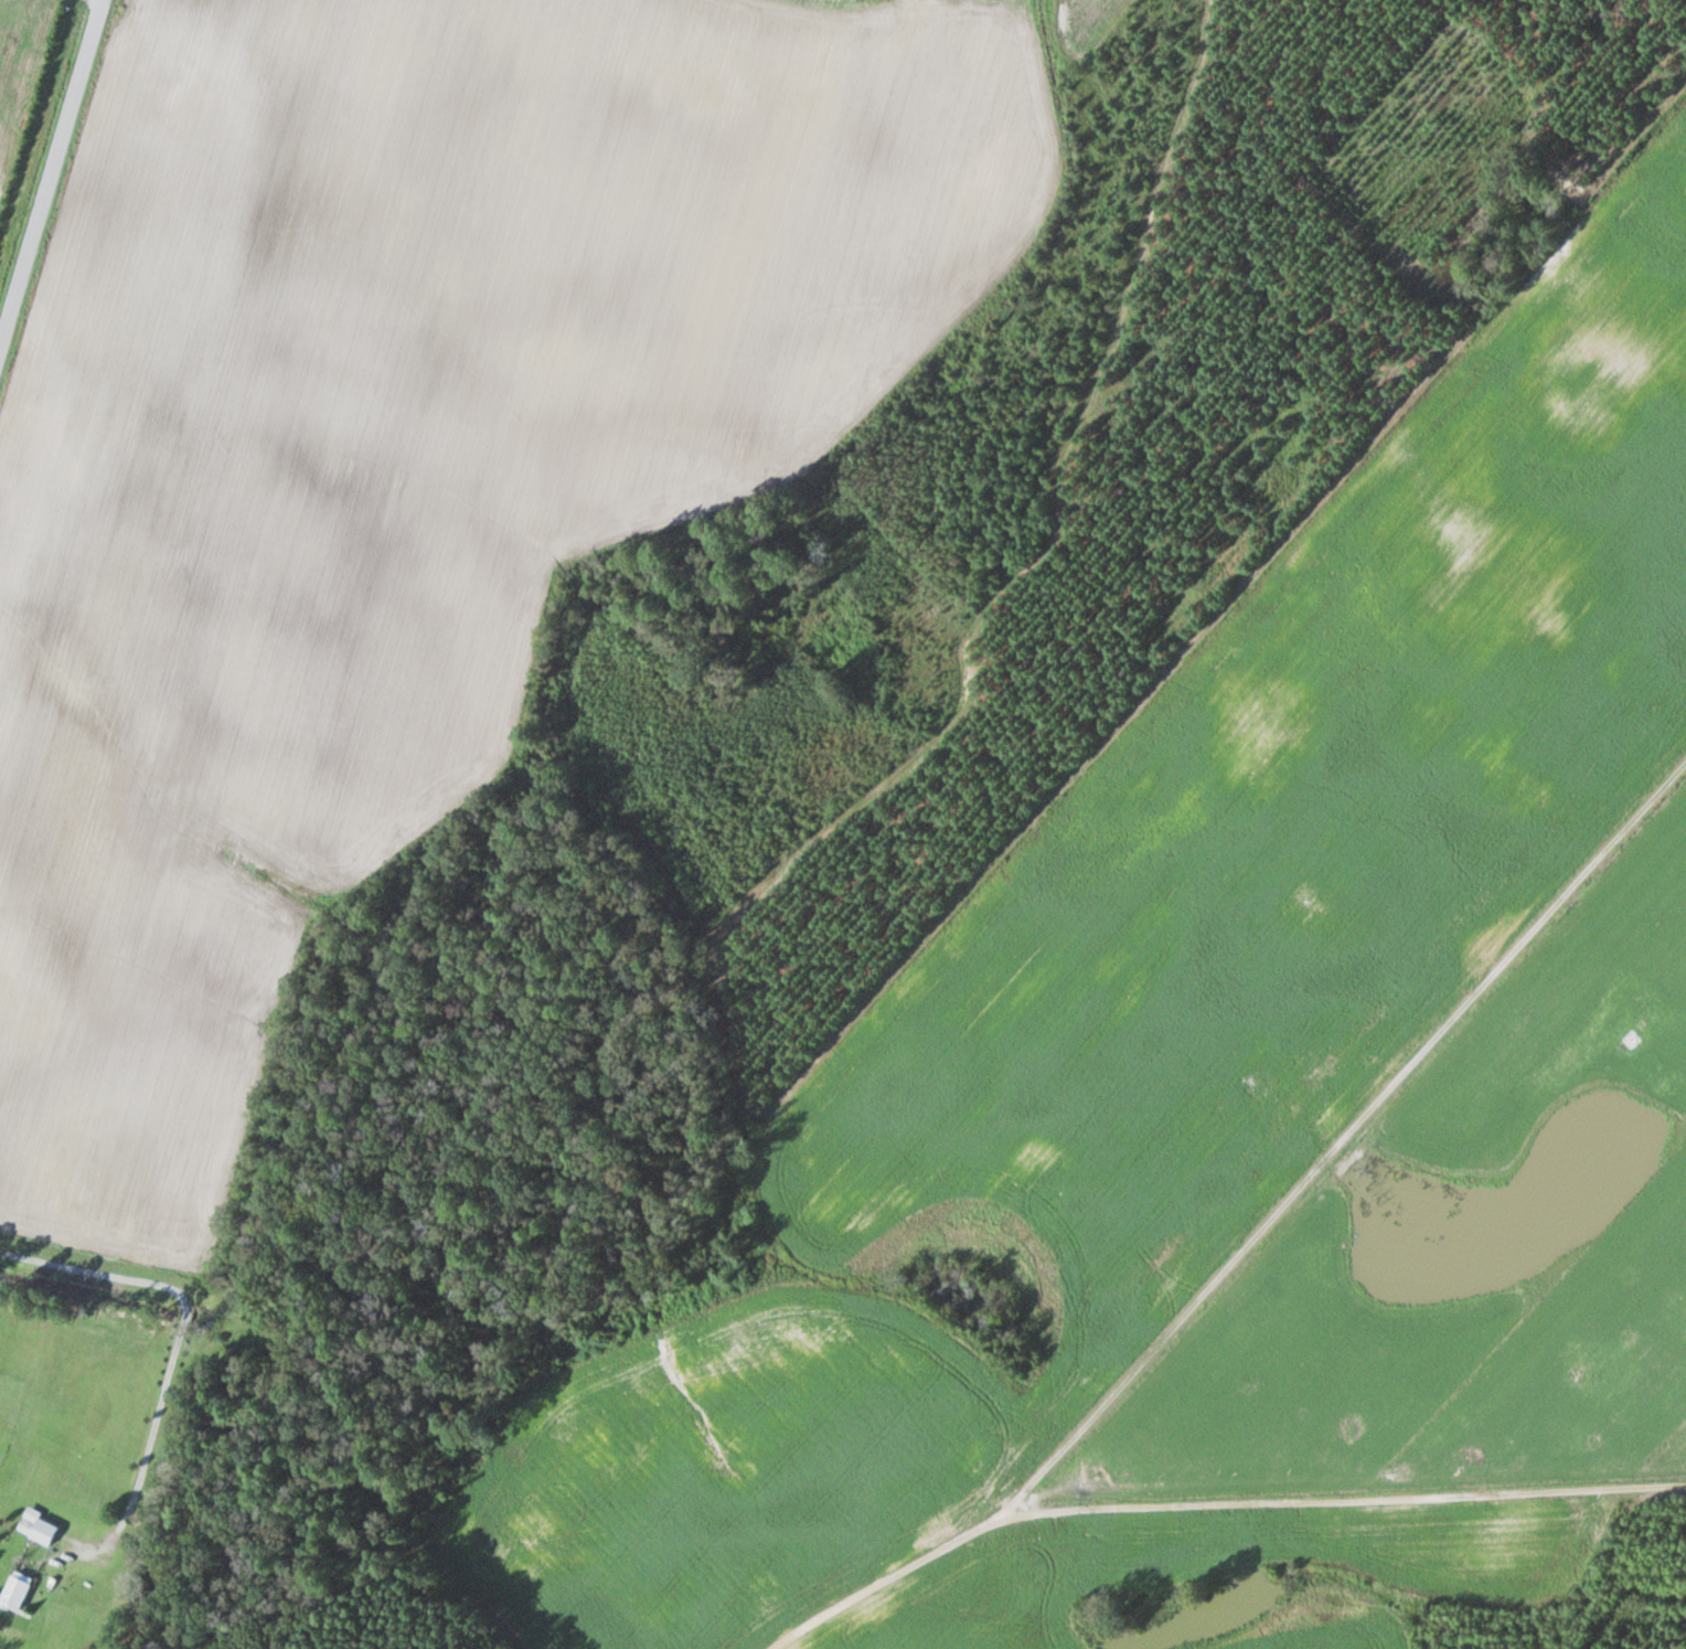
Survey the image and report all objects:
road: (448, 92)
road: (55, 185)
road: (85, 1267)
road: (1210, 1494)
building: (39, 1530)
building: (15, 1591)

